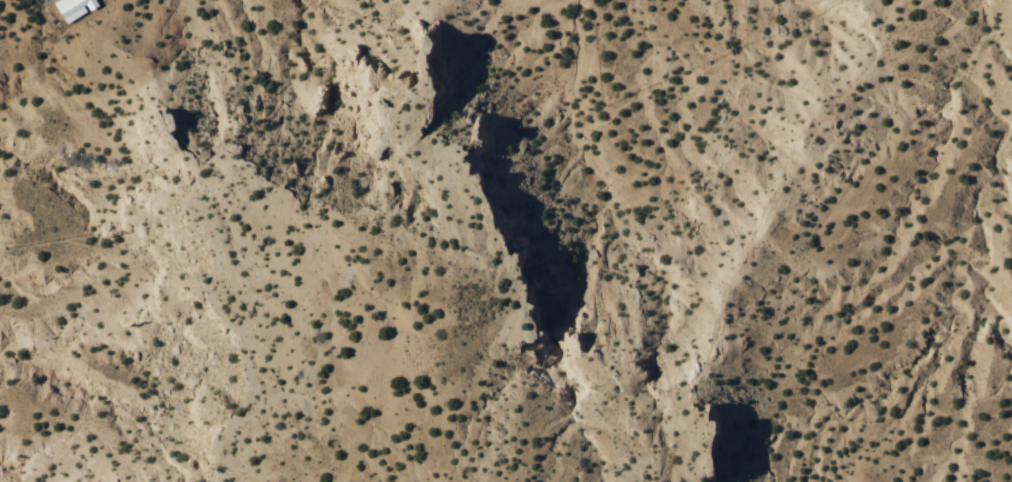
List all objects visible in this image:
building: (72, 7)

